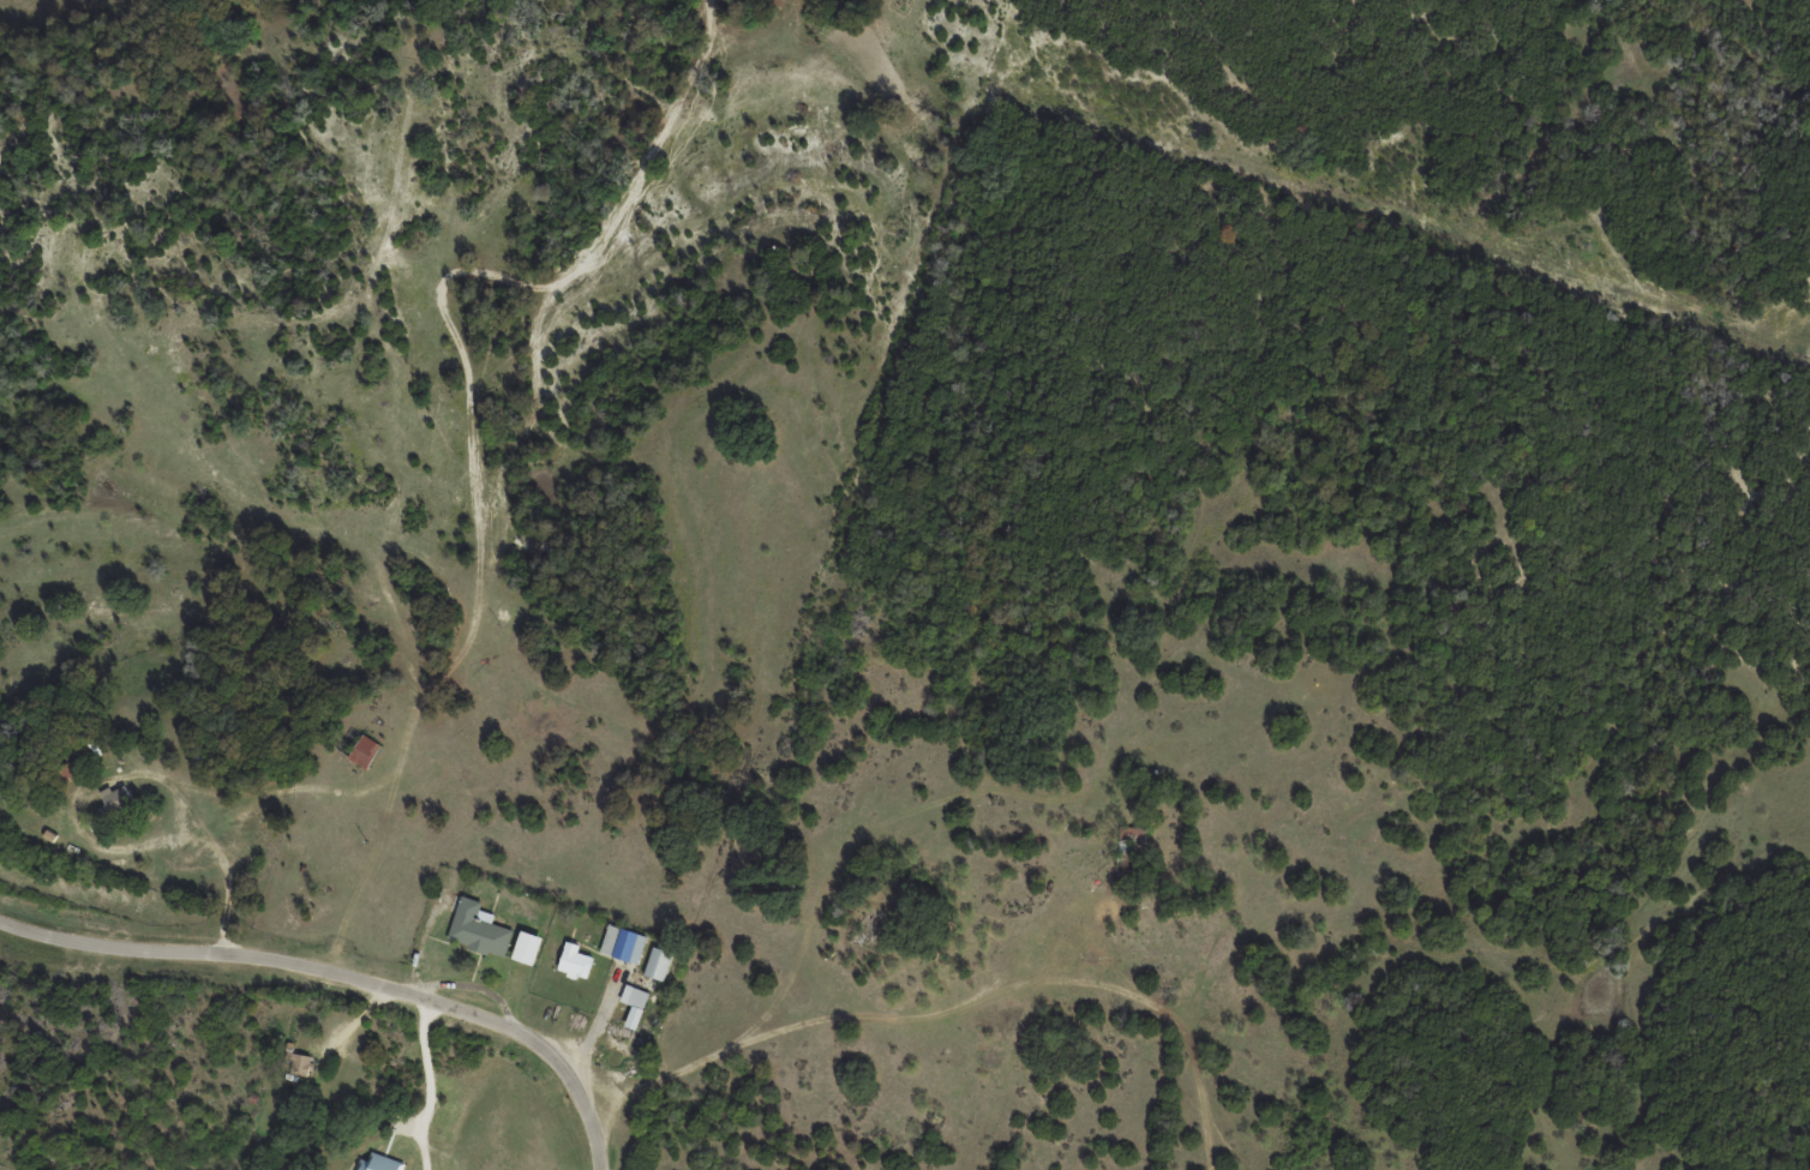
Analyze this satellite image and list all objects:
building: (361, 751)
building: (116, 797)
building: (1131, 838)
building: (477, 929)
building: (622, 943)
building: (528, 947)
building: (575, 961)
building: (657, 962)
road: (340, 982)
building: (637, 997)
building: (301, 1064)

